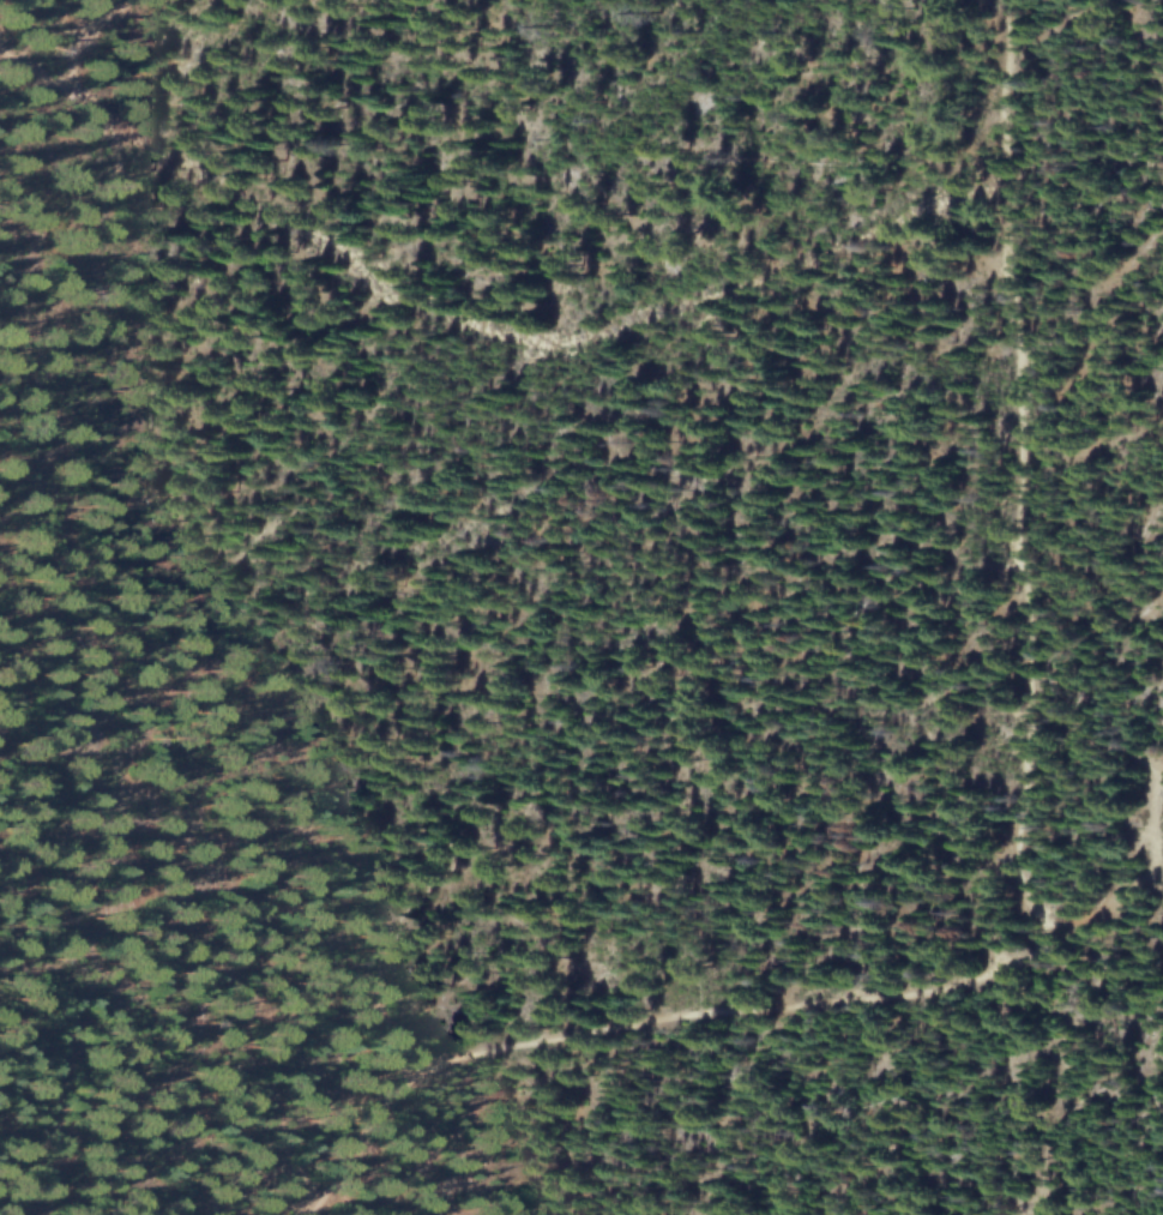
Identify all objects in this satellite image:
road: (73, 30)
road: (72, 62)
road: (482, 326)
road: (1024, 878)
road: (1114, 884)

